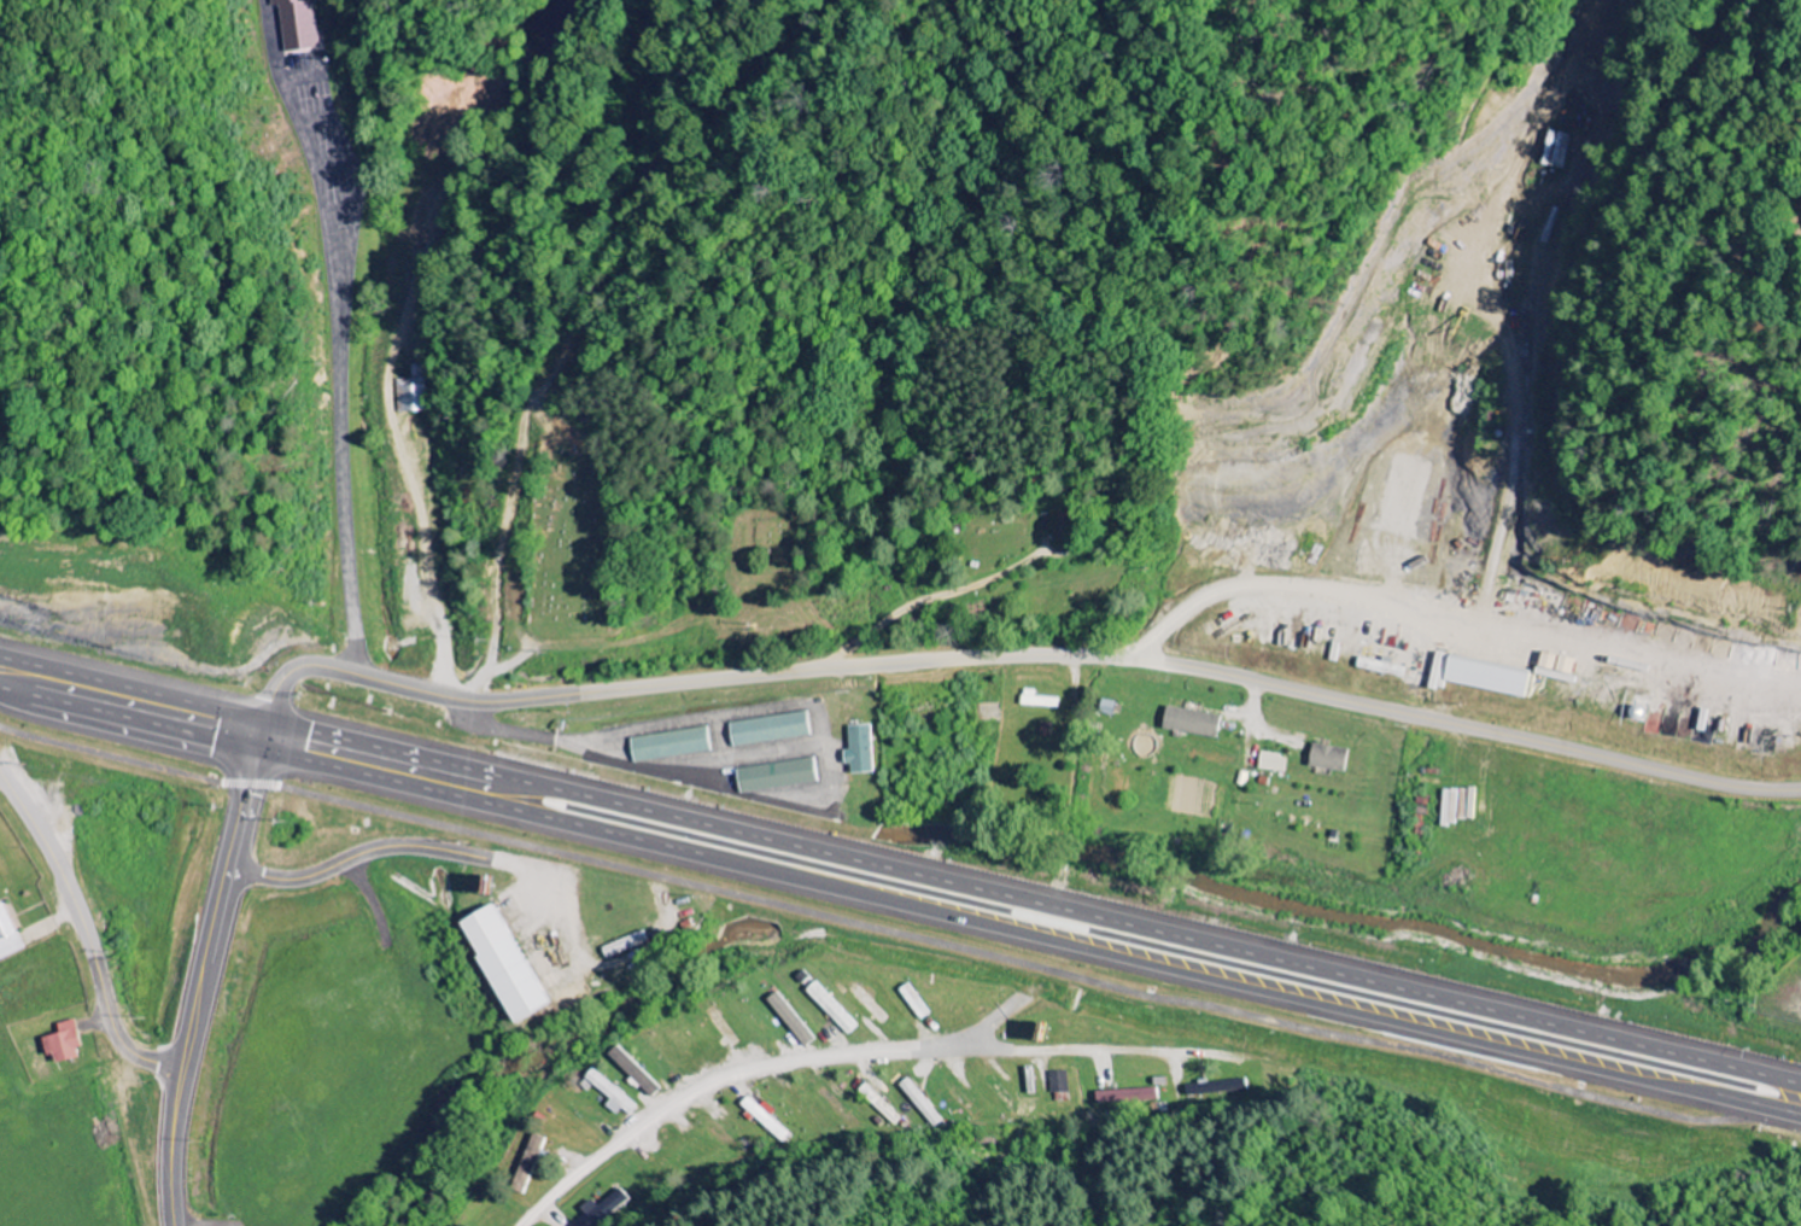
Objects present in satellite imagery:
building: (302, 24)
building: (1553, 150)
road: (345, 367)
building: (410, 392)
park: (774, 538)
park: (577, 547)
road: (1005, 656)
road: (505, 669)
building: (1474, 677)
building: (1034, 701)
building: (1104, 708)
traffic signals: (270, 719)
building: (1188, 723)
building: (765, 730)
building: (665, 746)
building: (856, 751)
traffic signals: (262, 753)
road: (590, 753)
building: (1326, 759)
building: (1269, 763)
building: (774, 776)
road: (900, 869)
river: (843, 874)
road: (900, 903)
river: (1359, 912)
building: (11, 935)
road: (87, 939)
building: (622, 946)
building: (499, 965)
road: (210, 988)
building: (865, 1004)
building: (831, 1010)
building: (789, 1021)
river: (580, 1029)
building: (71, 1043)
road: (853, 1051)
building: (633, 1072)
building: (1057, 1084)
building: (610, 1096)
building: (1124, 1097)
building: (917, 1104)
building: (762, 1117)
building: (601, 1209)

